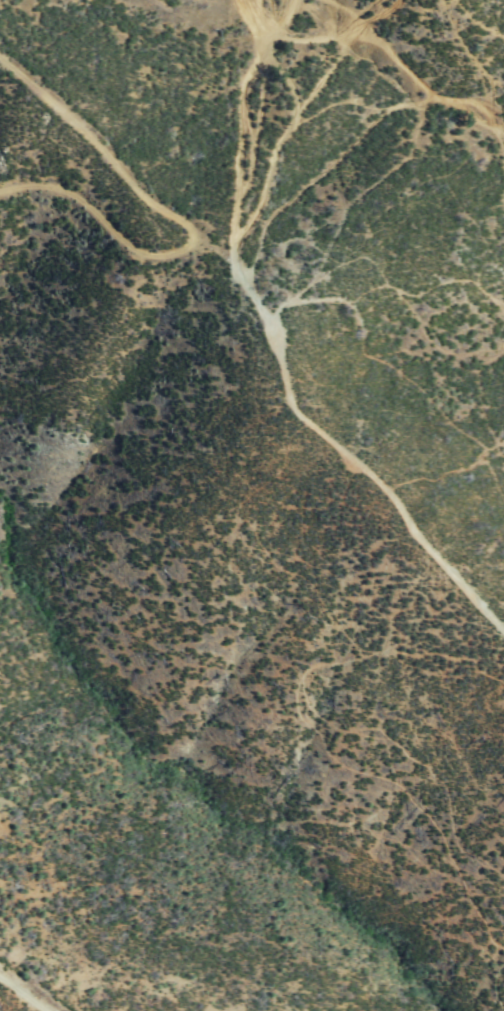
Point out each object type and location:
road: (281, 147)
road: (369, 463)
road: (19, 997)

